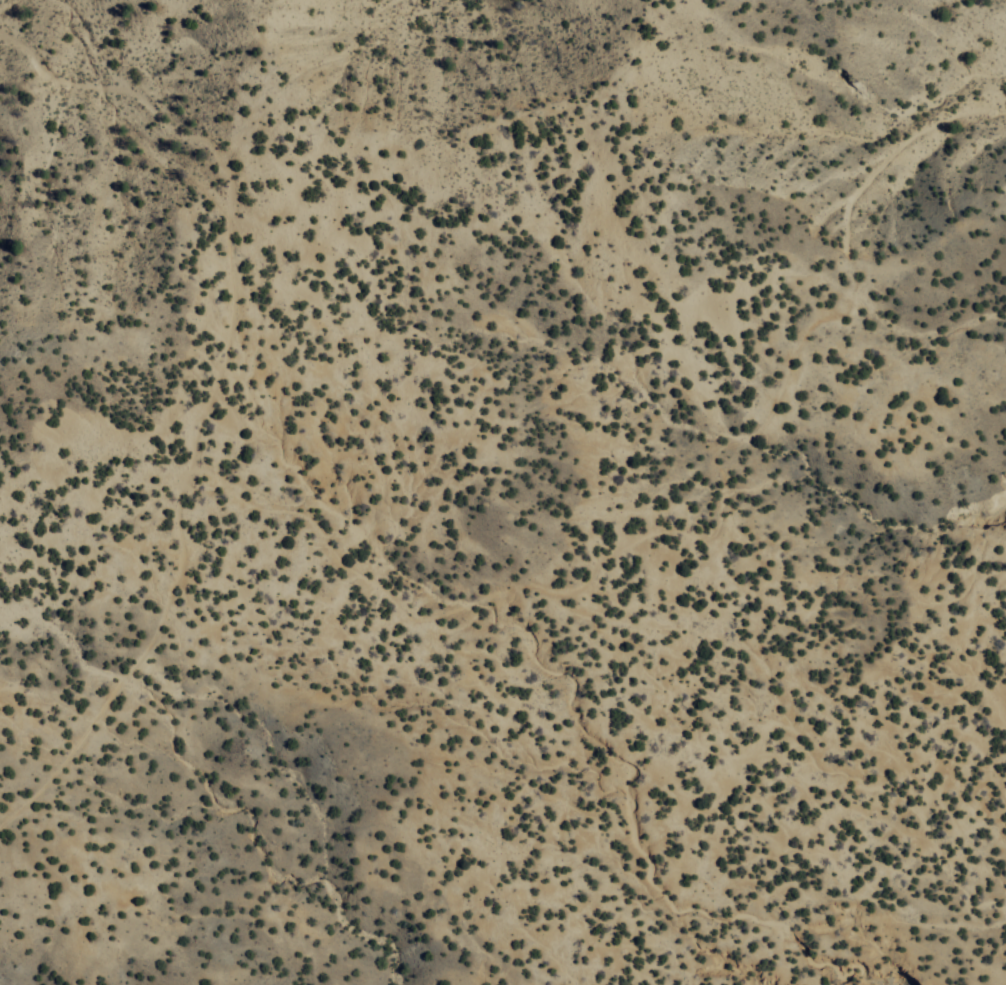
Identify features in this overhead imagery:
road: (213, 393)
road: (702, 539)

